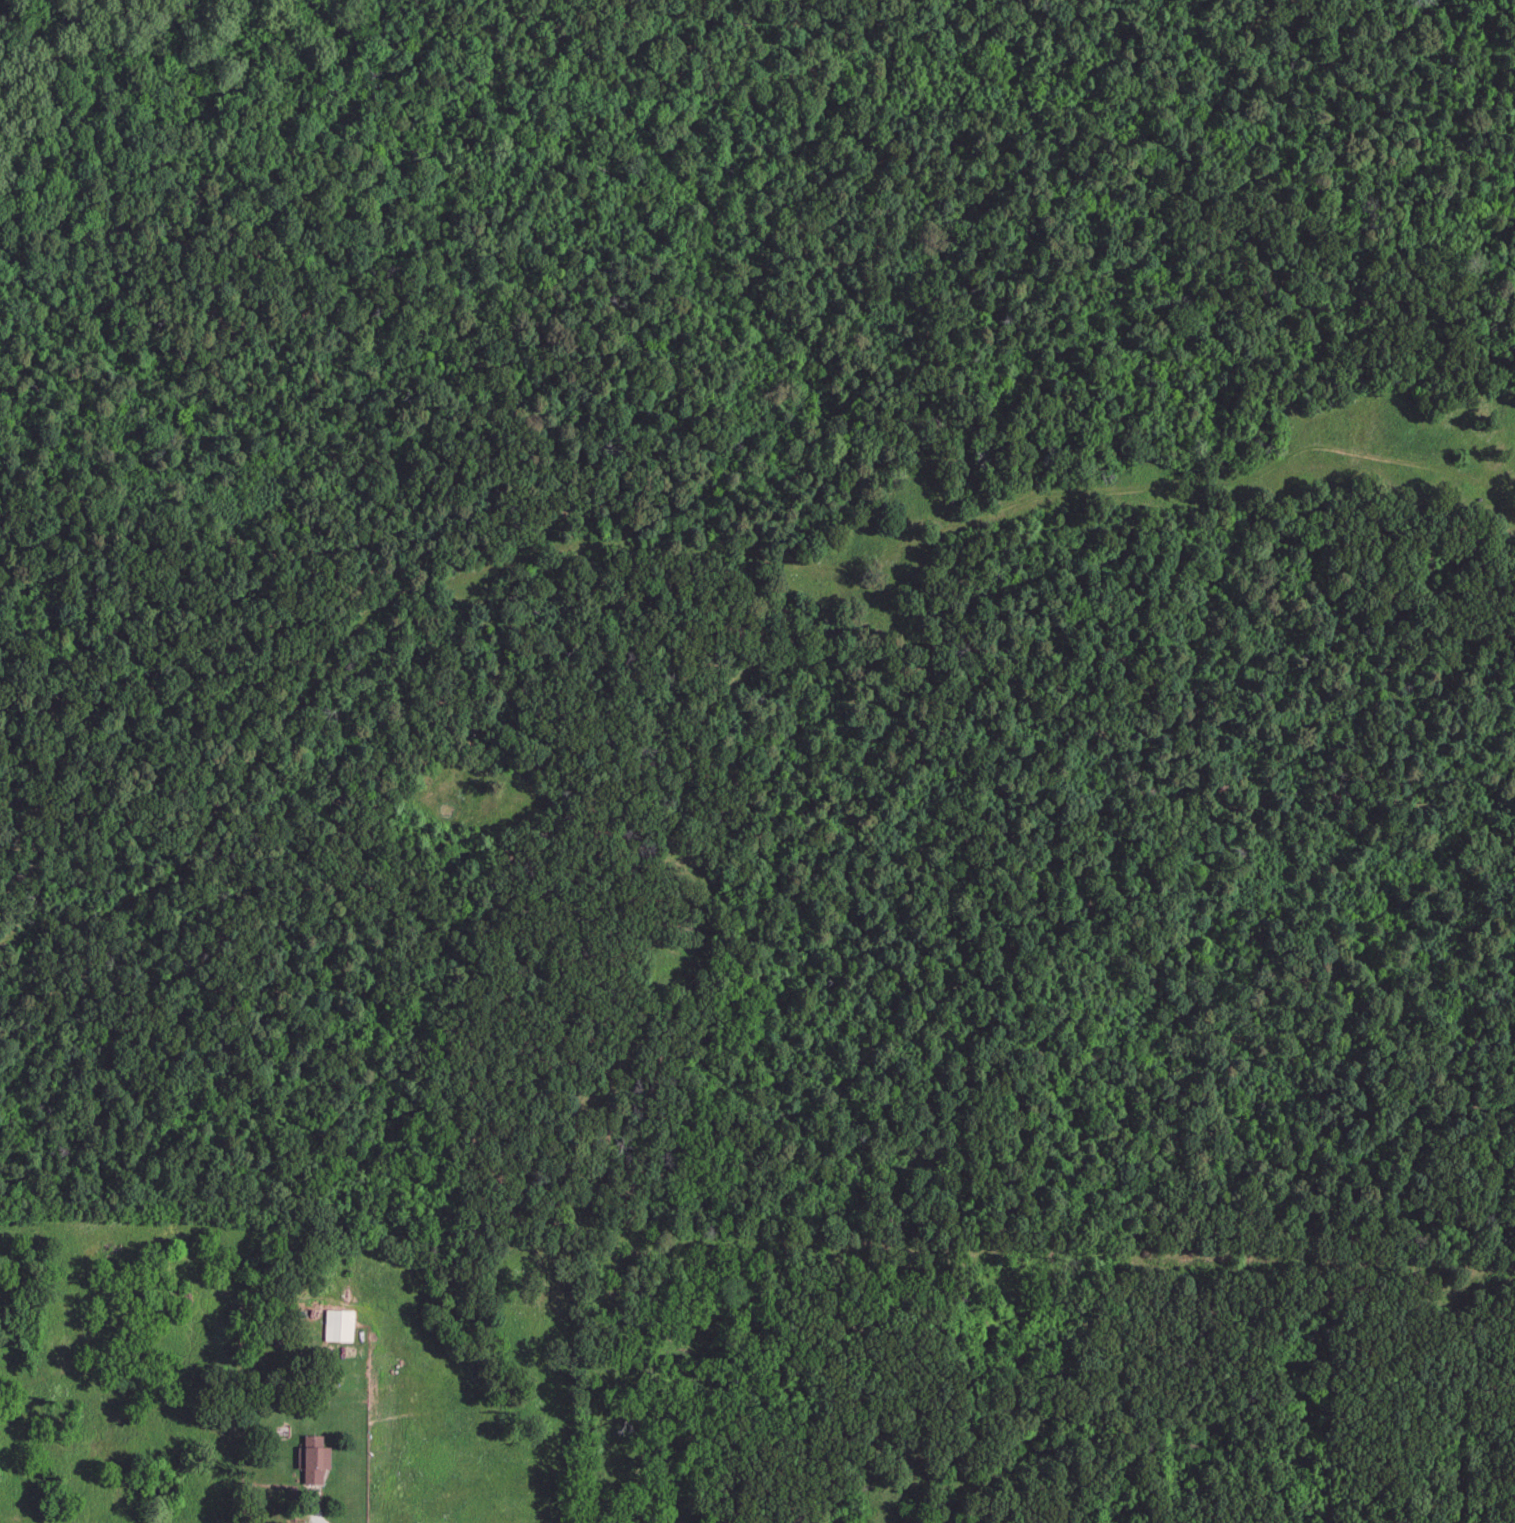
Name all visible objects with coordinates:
building: (337, 1327)
building: (312, 1461)
road: (310, 1516)

